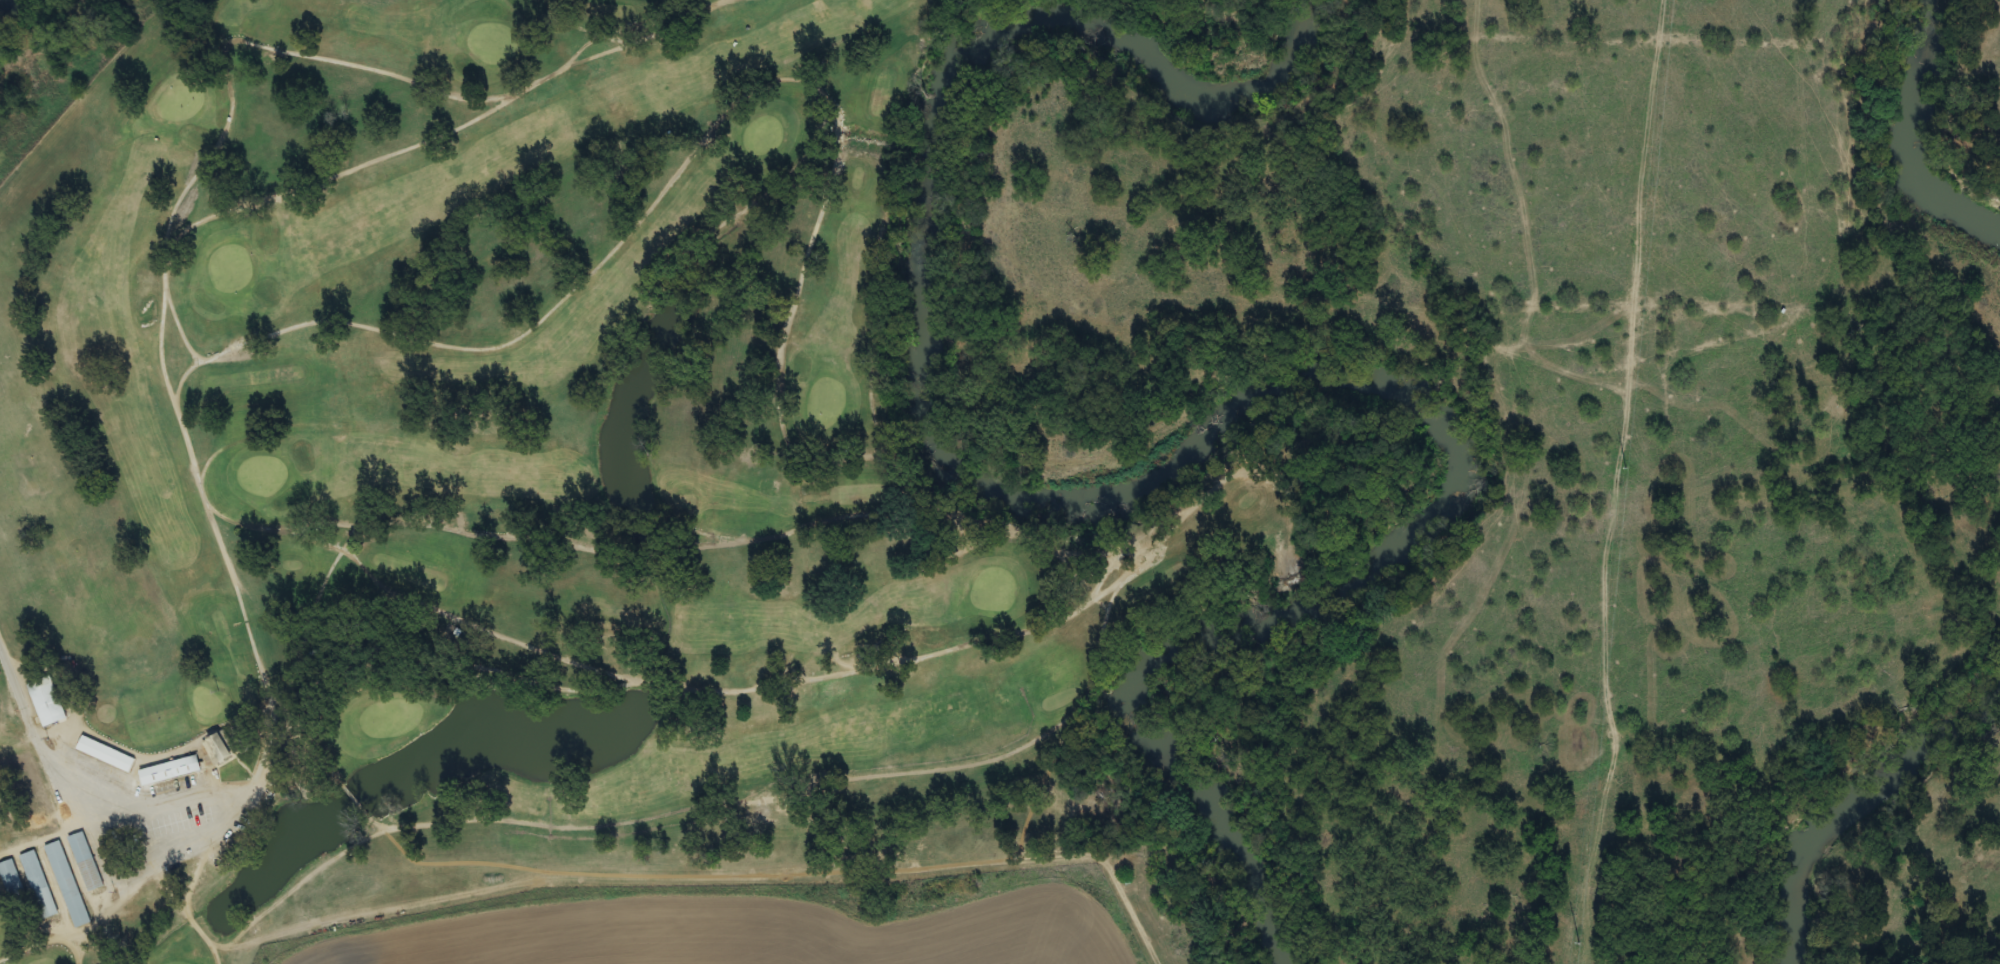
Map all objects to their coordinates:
river: (2, 5)
park: (1190, 10)
river: (1918, 132)
park: (517, 470)
river: (1187, 492)
building: (47, 701)
river: (1977, 729)
road: (35, 741)
building: (106, 754)
building: (160, 774)
river: (1840, 830)
building: (86, 862)
building: (11, 880)
building: (67, 884)
building: (39, 885)

